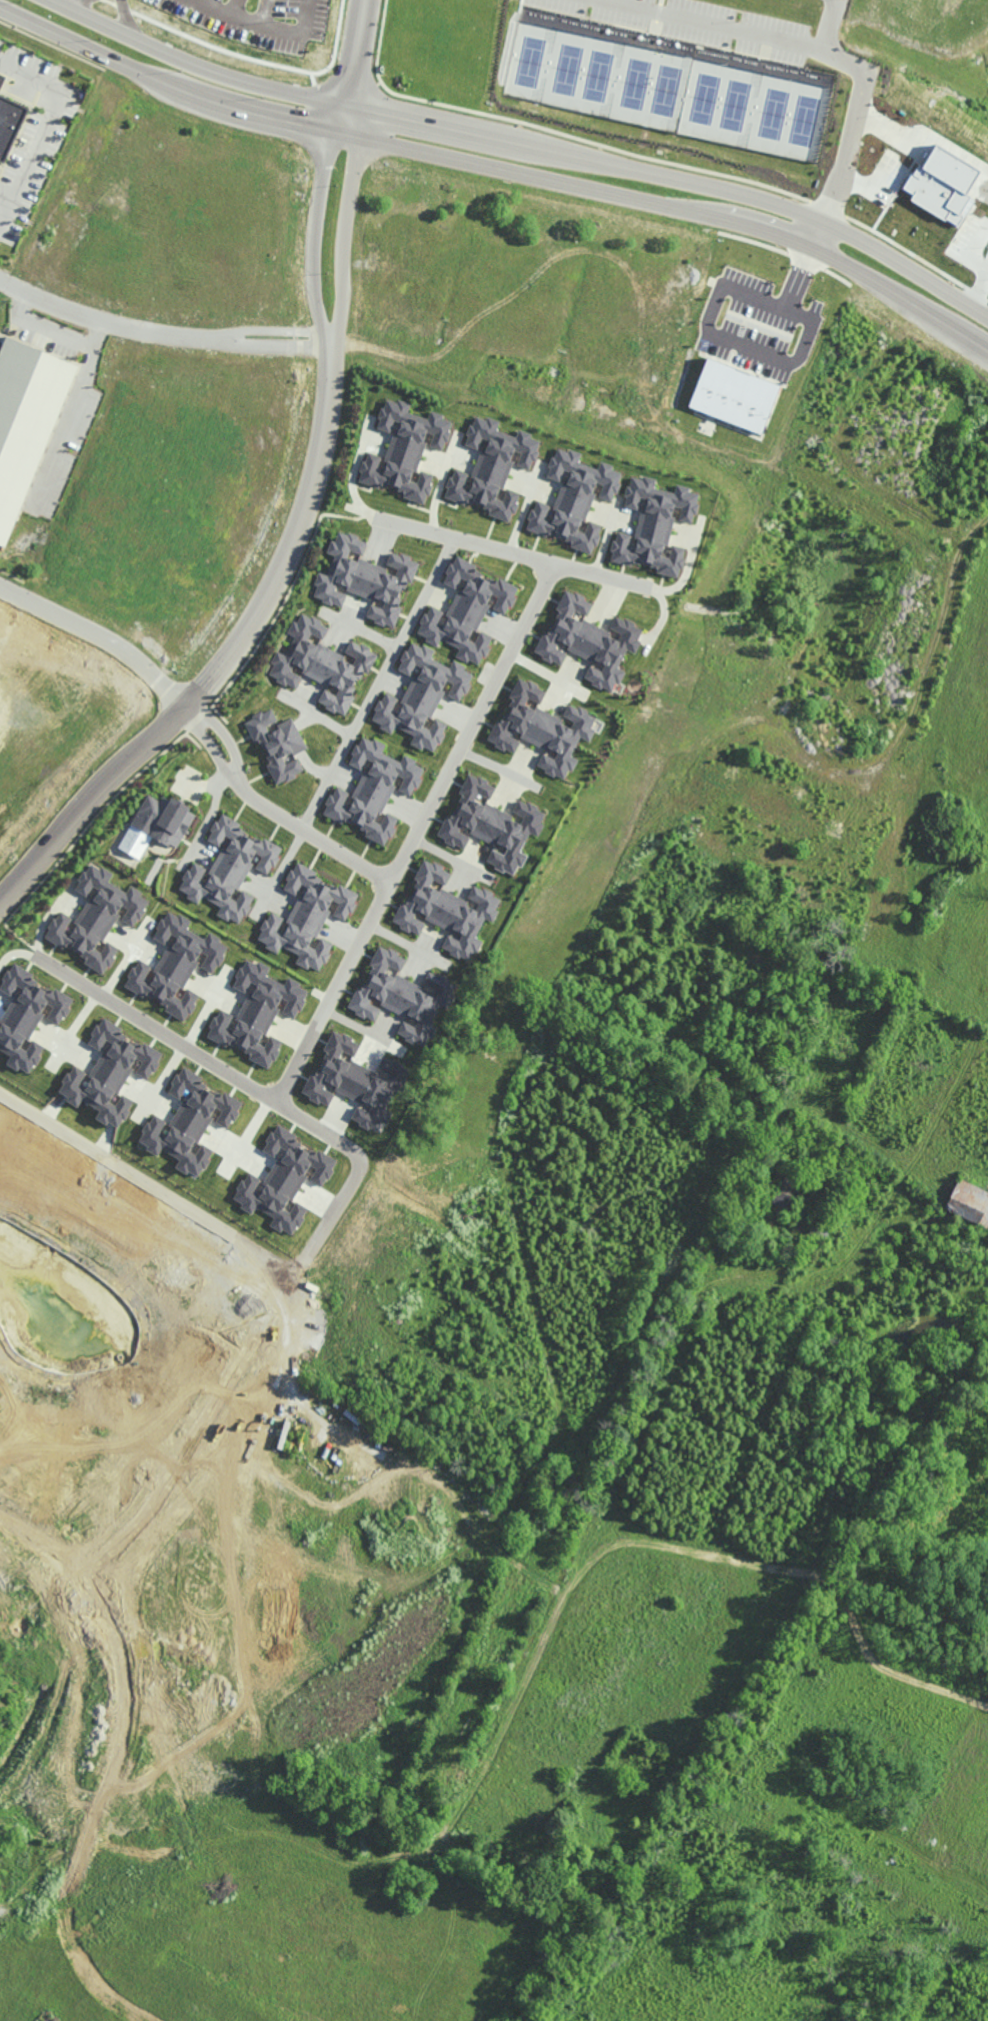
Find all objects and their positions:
road: (72, 3)
road: (123, 17)
road: (828, 25)
road: (357, 51)
road: (825, 54)
building: (1, 81)
road: (45, 123)
building: (9, 125)
road: (526, 139)
road: (500, 169)
road: (5, 218)
road: (313, 236)
road: (348, 239)
road: (110, 323)
road: (48, 329)
road: (282, 330)
road: (283, 345)
road: (763, 353)
building: (733, 395)
road: (71, 411)
building: (25, 421)
building: (405, 450)
building: (492, 467)
building: (574, 499)
building: (654, 525)
road: (511, 549)
building: (365, 579)
building: (467, 611)
road: (100, 635)
building: (589, 640)
building: (321, 664)
road: (217, 670)
road: (377, 681)
building: (422, 696)
building: (542, 728)
road: (218, 731)
road: (203, 740)
building: (277, 744)
building: (374, 789)
road: (207, 817)
building: (157, 824)
building: (492, 824)
road: (306, 830)
road: (416, 831)
building: (230, 869)
building: (446, 910)
building: (97, 917)
building: (307, 917)
building: (176, 965)
building: (403, 997)
building: (257, 1012)
building: (27, 1017)
road: (189, 1047)
building: (109, 1074)
building: (356, 1081)
building: (189, 1122)
road: (113, 1170)
building: (284, 1181)
building: (969, 1202)
road: (320, 1234)
road: (965, 1435)
road: (899, 1647)
road: (75, 1965)

